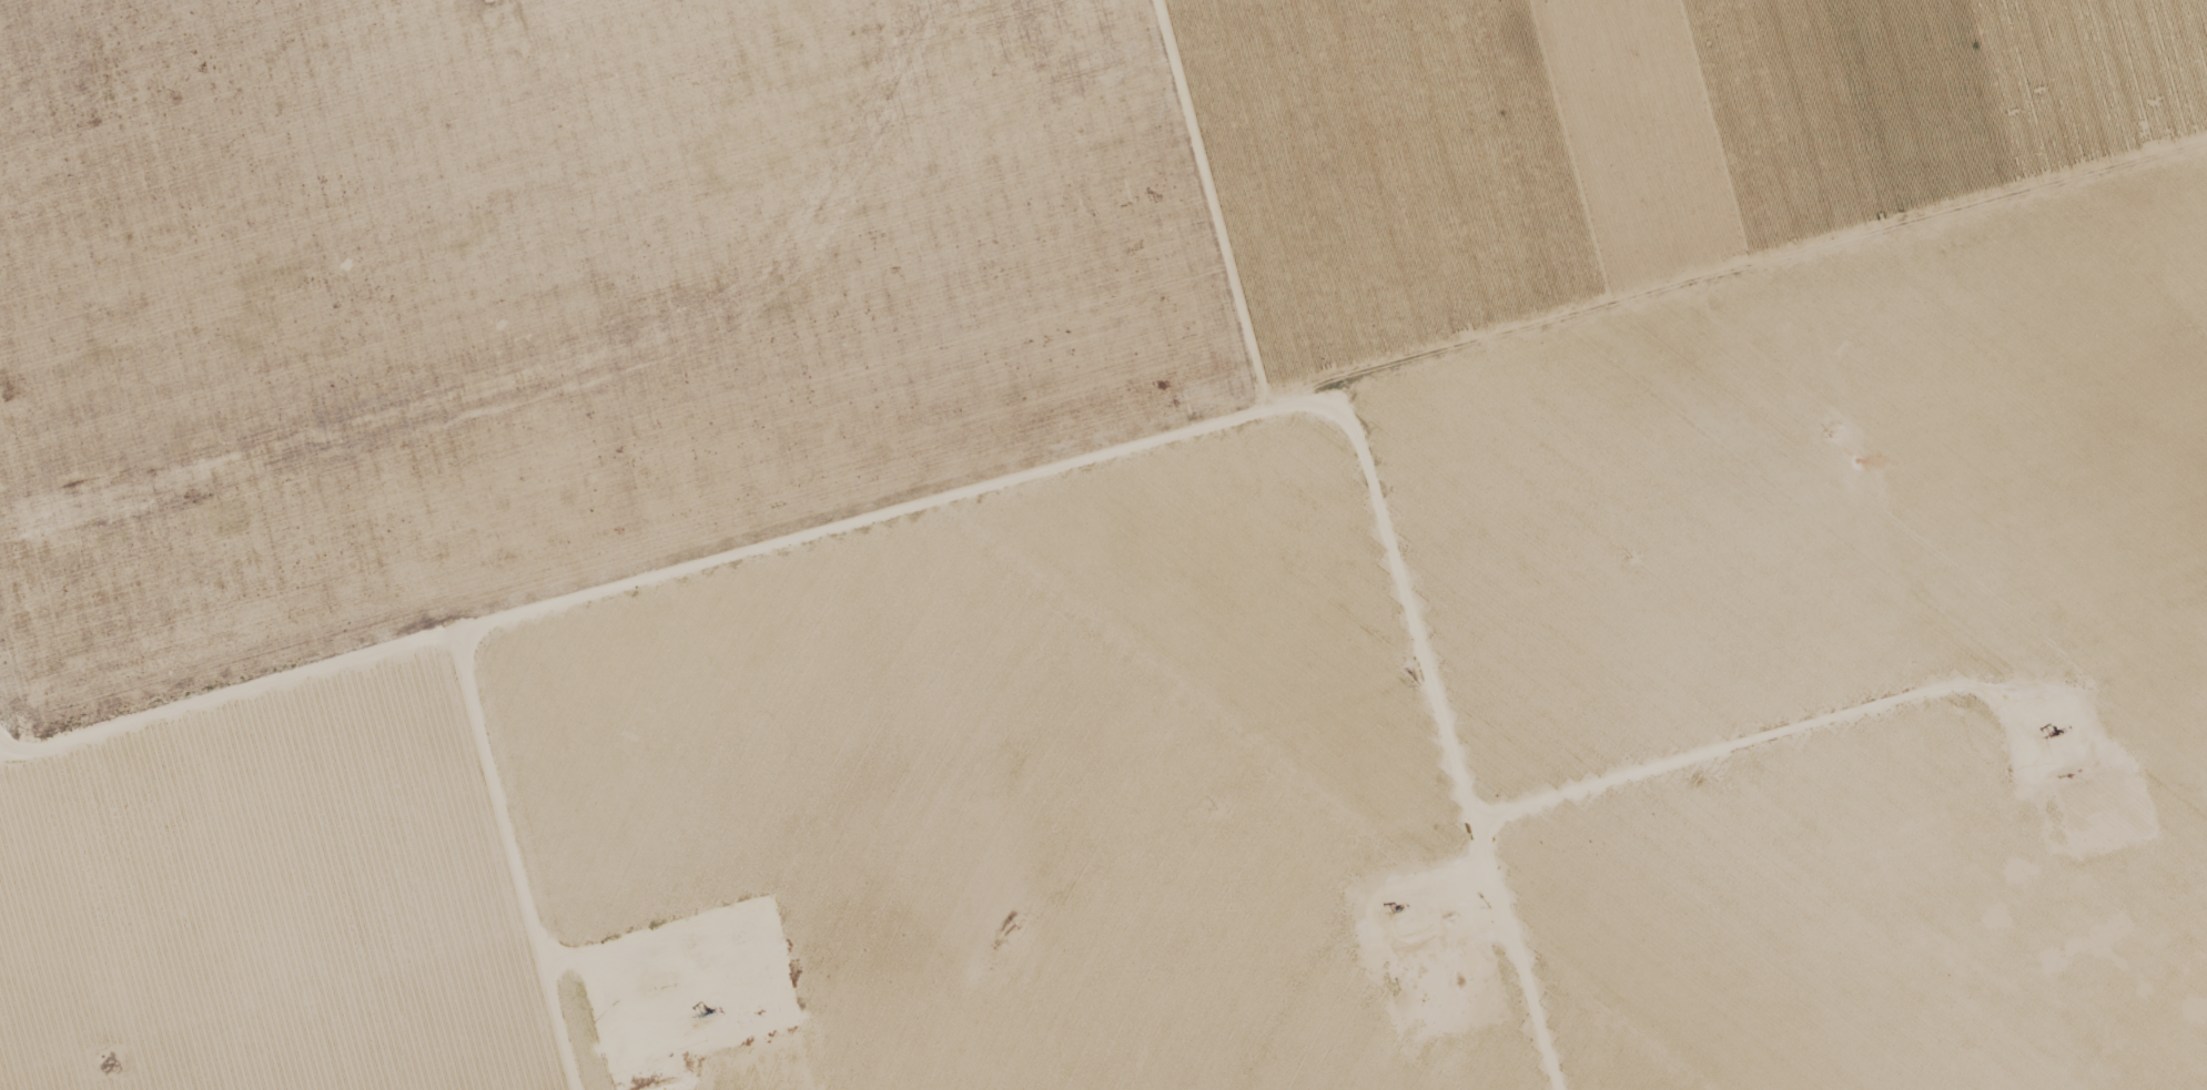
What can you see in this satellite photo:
road: (432, 694)

